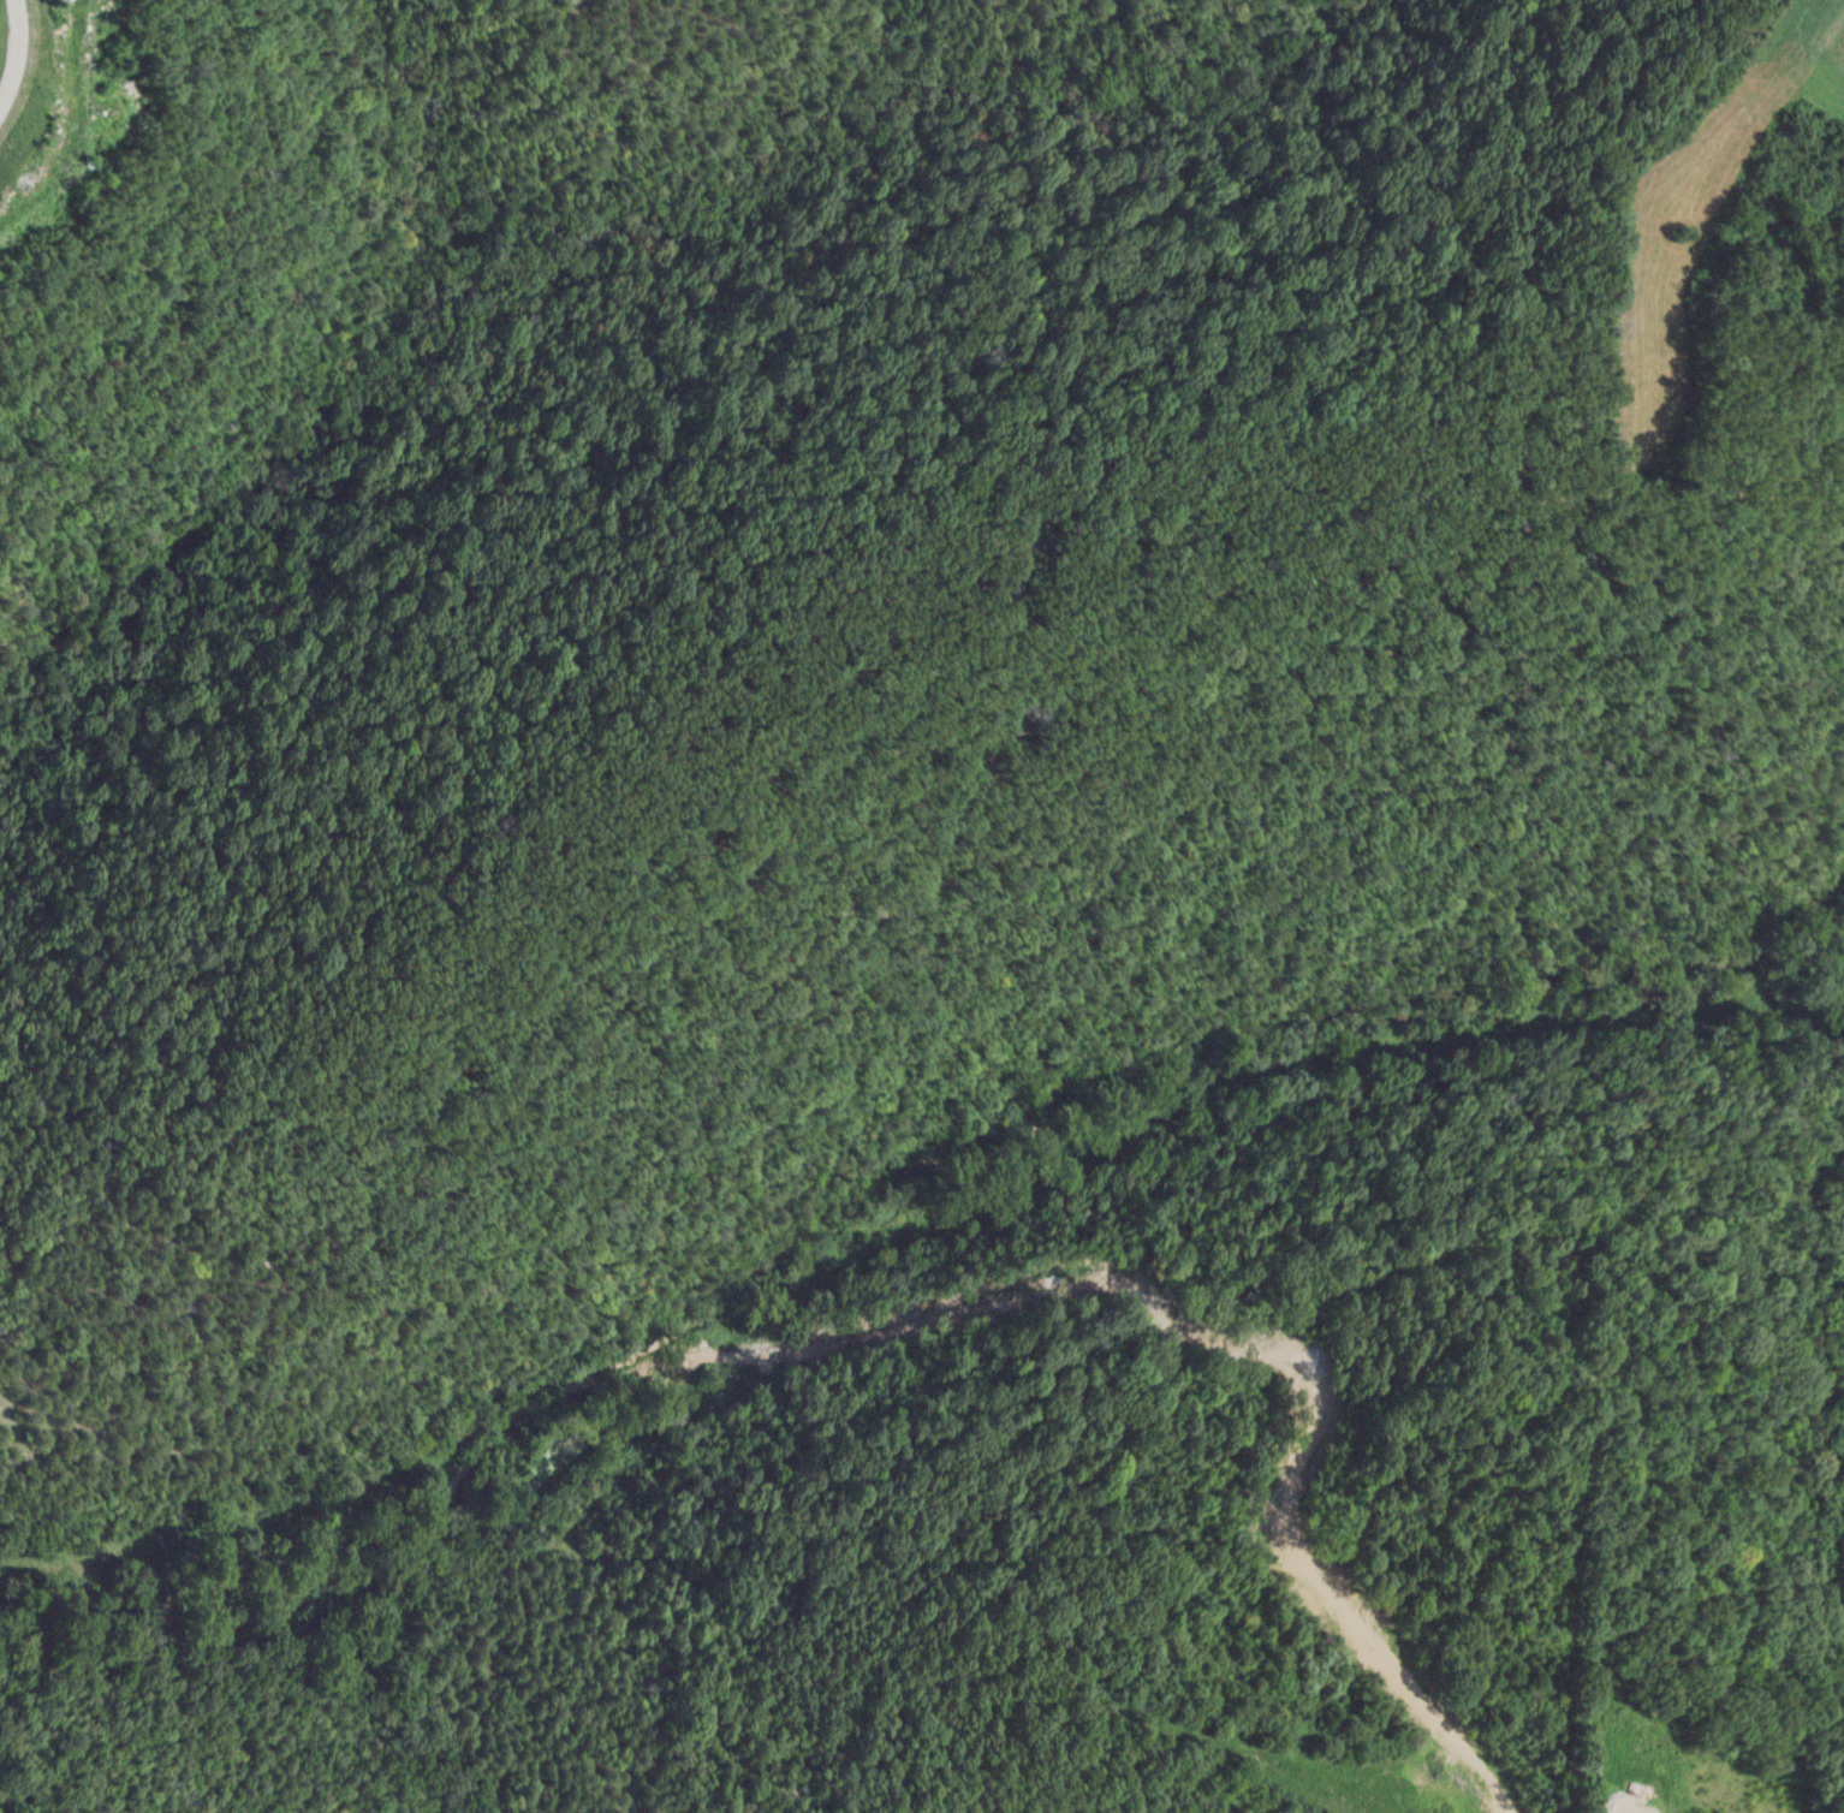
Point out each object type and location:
road: (17, 52)

